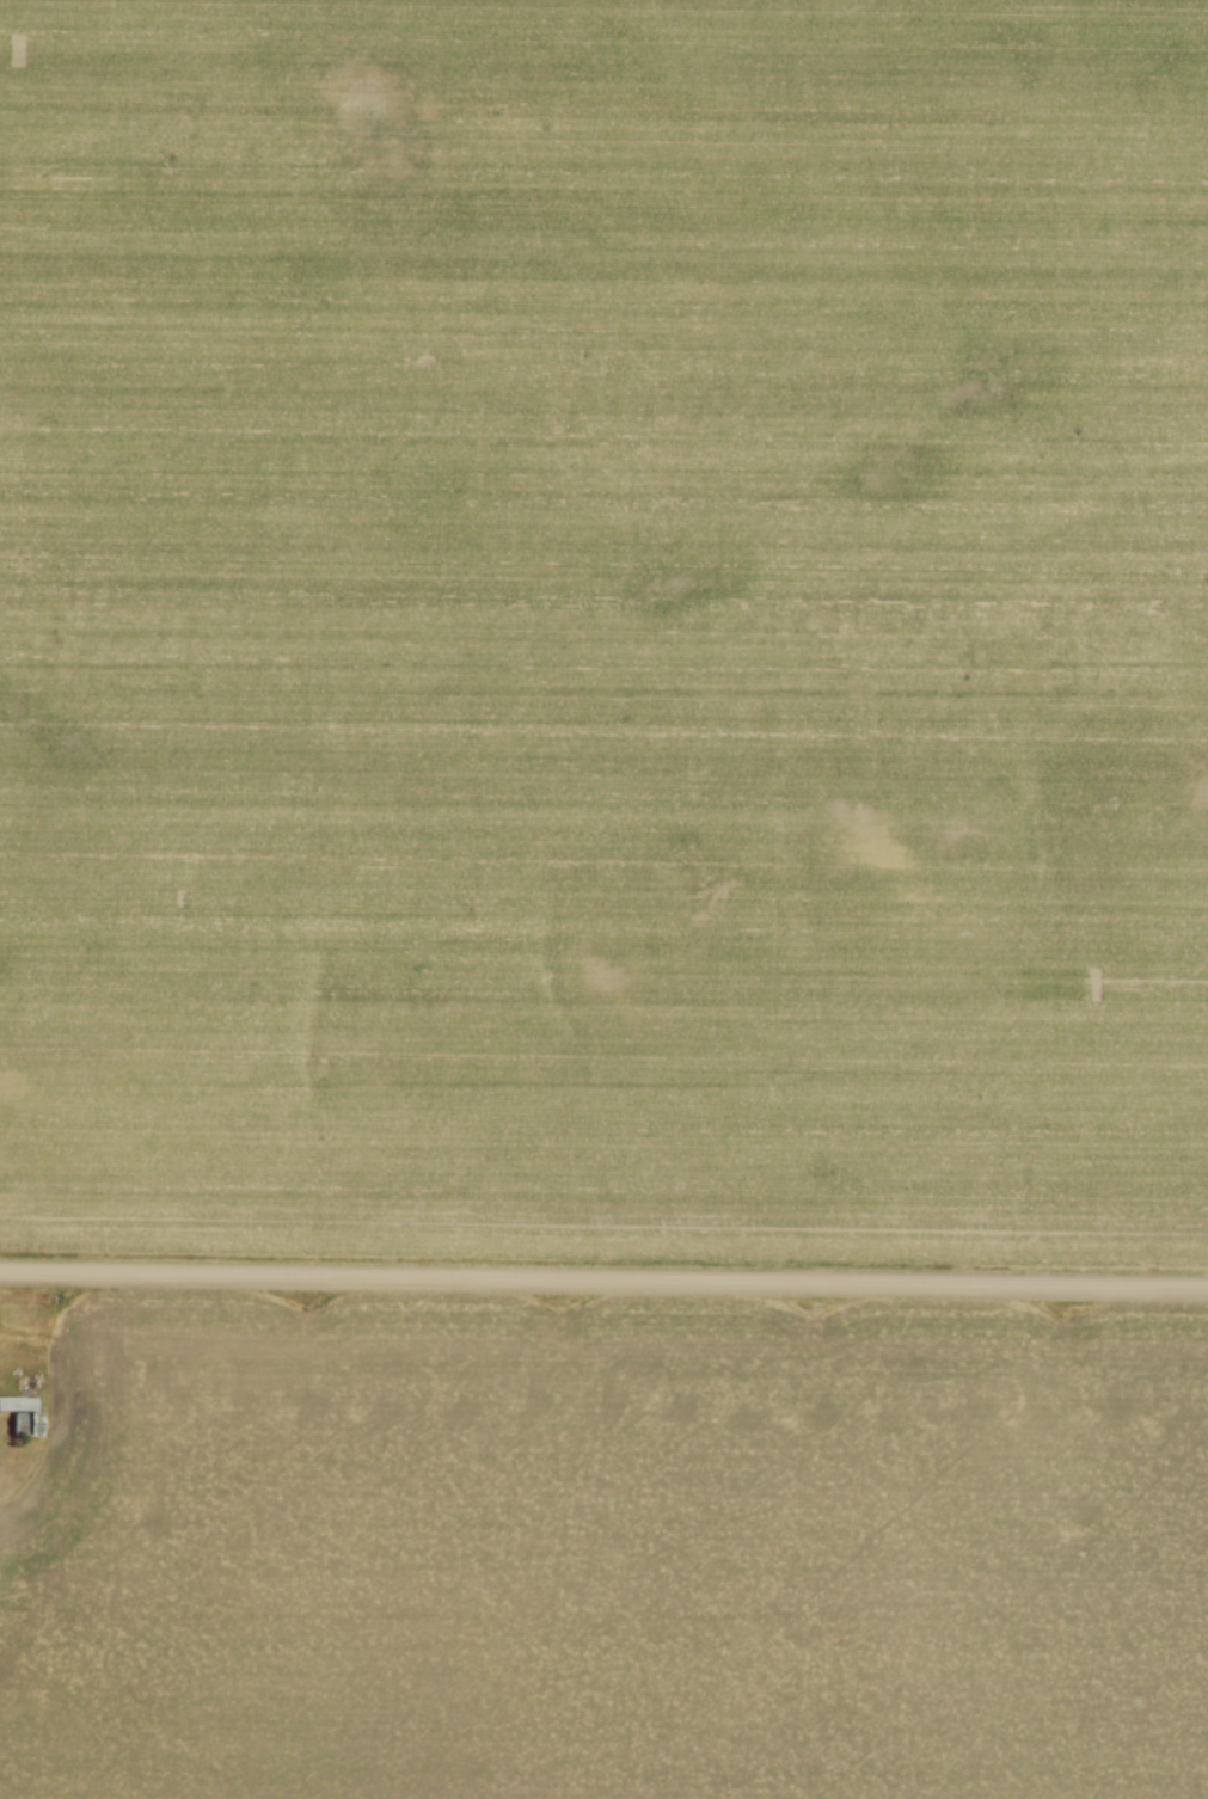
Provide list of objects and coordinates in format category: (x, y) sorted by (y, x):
crop: (605, 627)
road: (603, 1278)
building: (18, 1401)
building: (26, 1422)
crop: (601, 1552)

